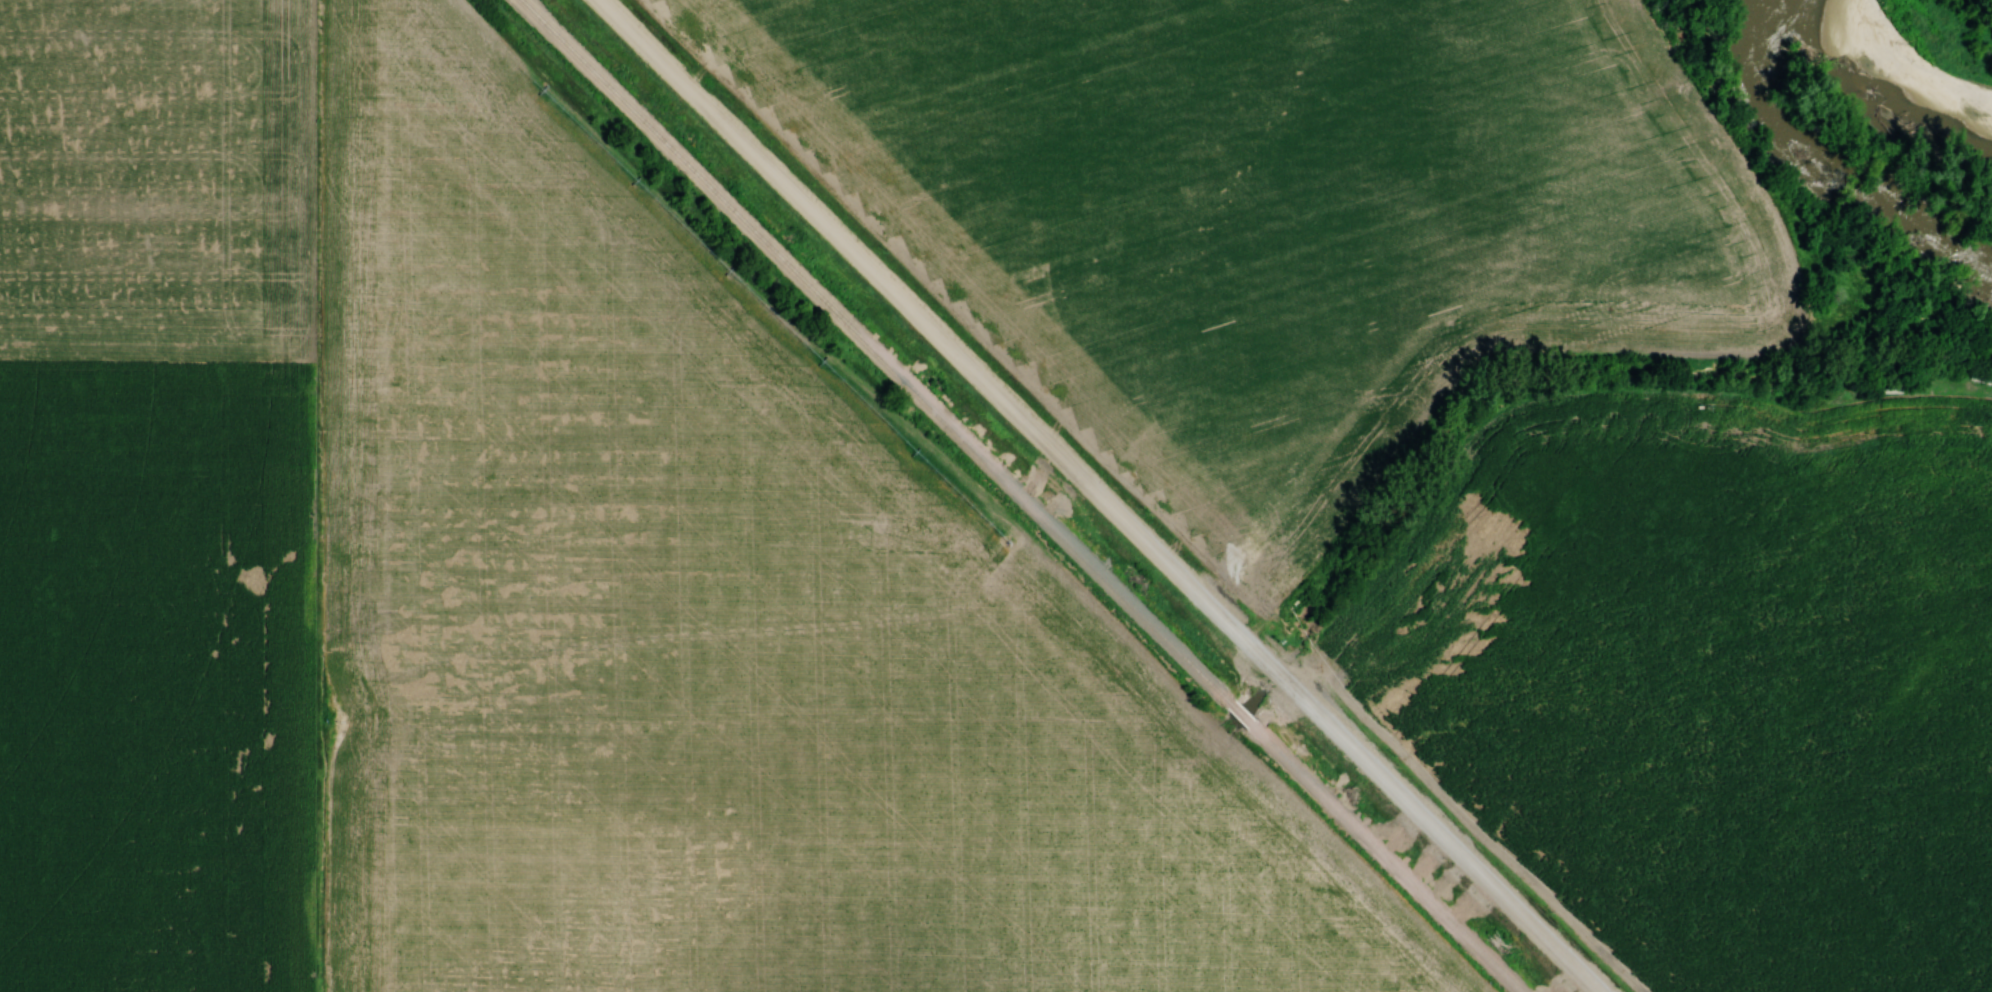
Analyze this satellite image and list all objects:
river: (1911, 75)
road: (1096, 494)
railway: (1024, 496)

